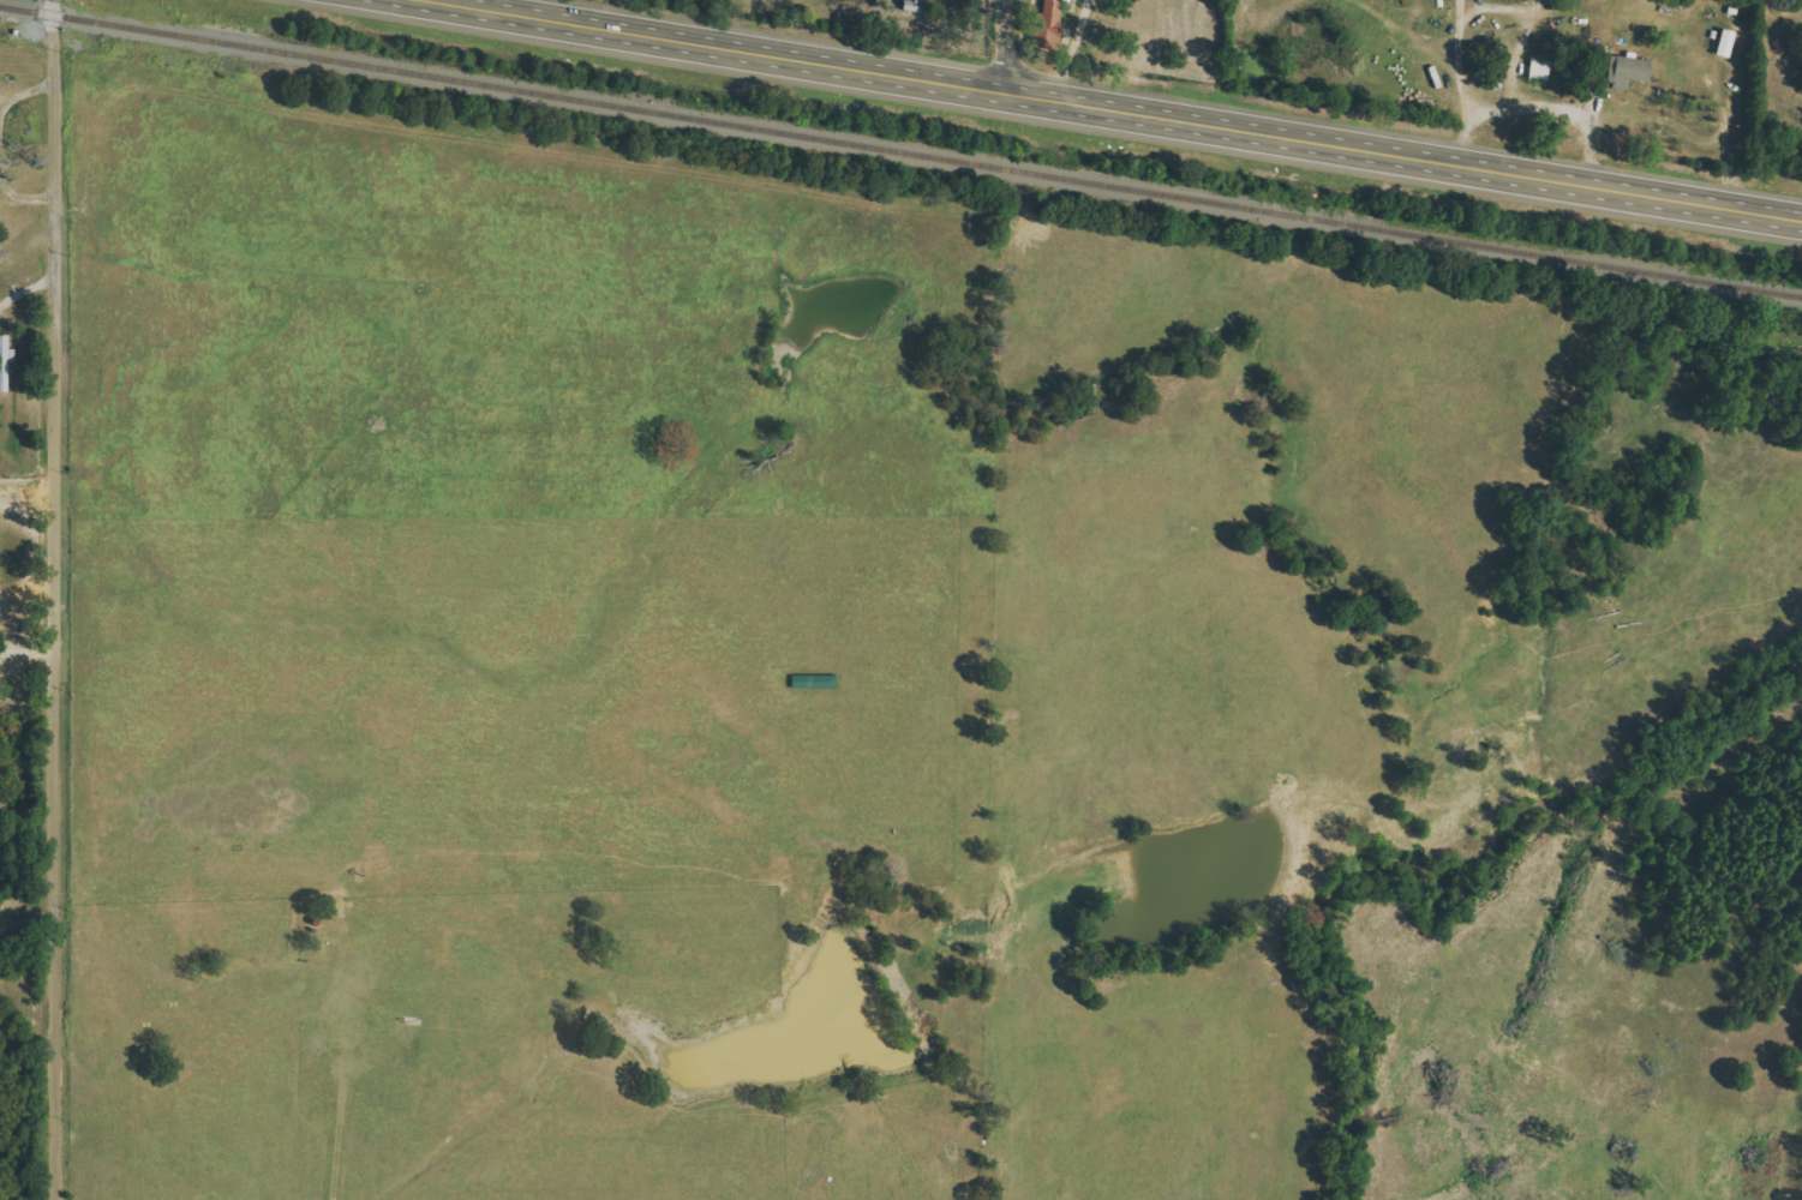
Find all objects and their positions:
road: (1526, 20)
building: (1046, 24)
building: (1723, 42)
road: (1002, 47)
building: (1597, 58)
building: (1539, 68)
building: (1628, 71)
road: (1511, 103)
road: (1115, 112)
road: (1460, 133)
railway: (900, 150)
road: (42, 332)
building: (8, 348)
building: (813, 682)
road: (37, 932)

